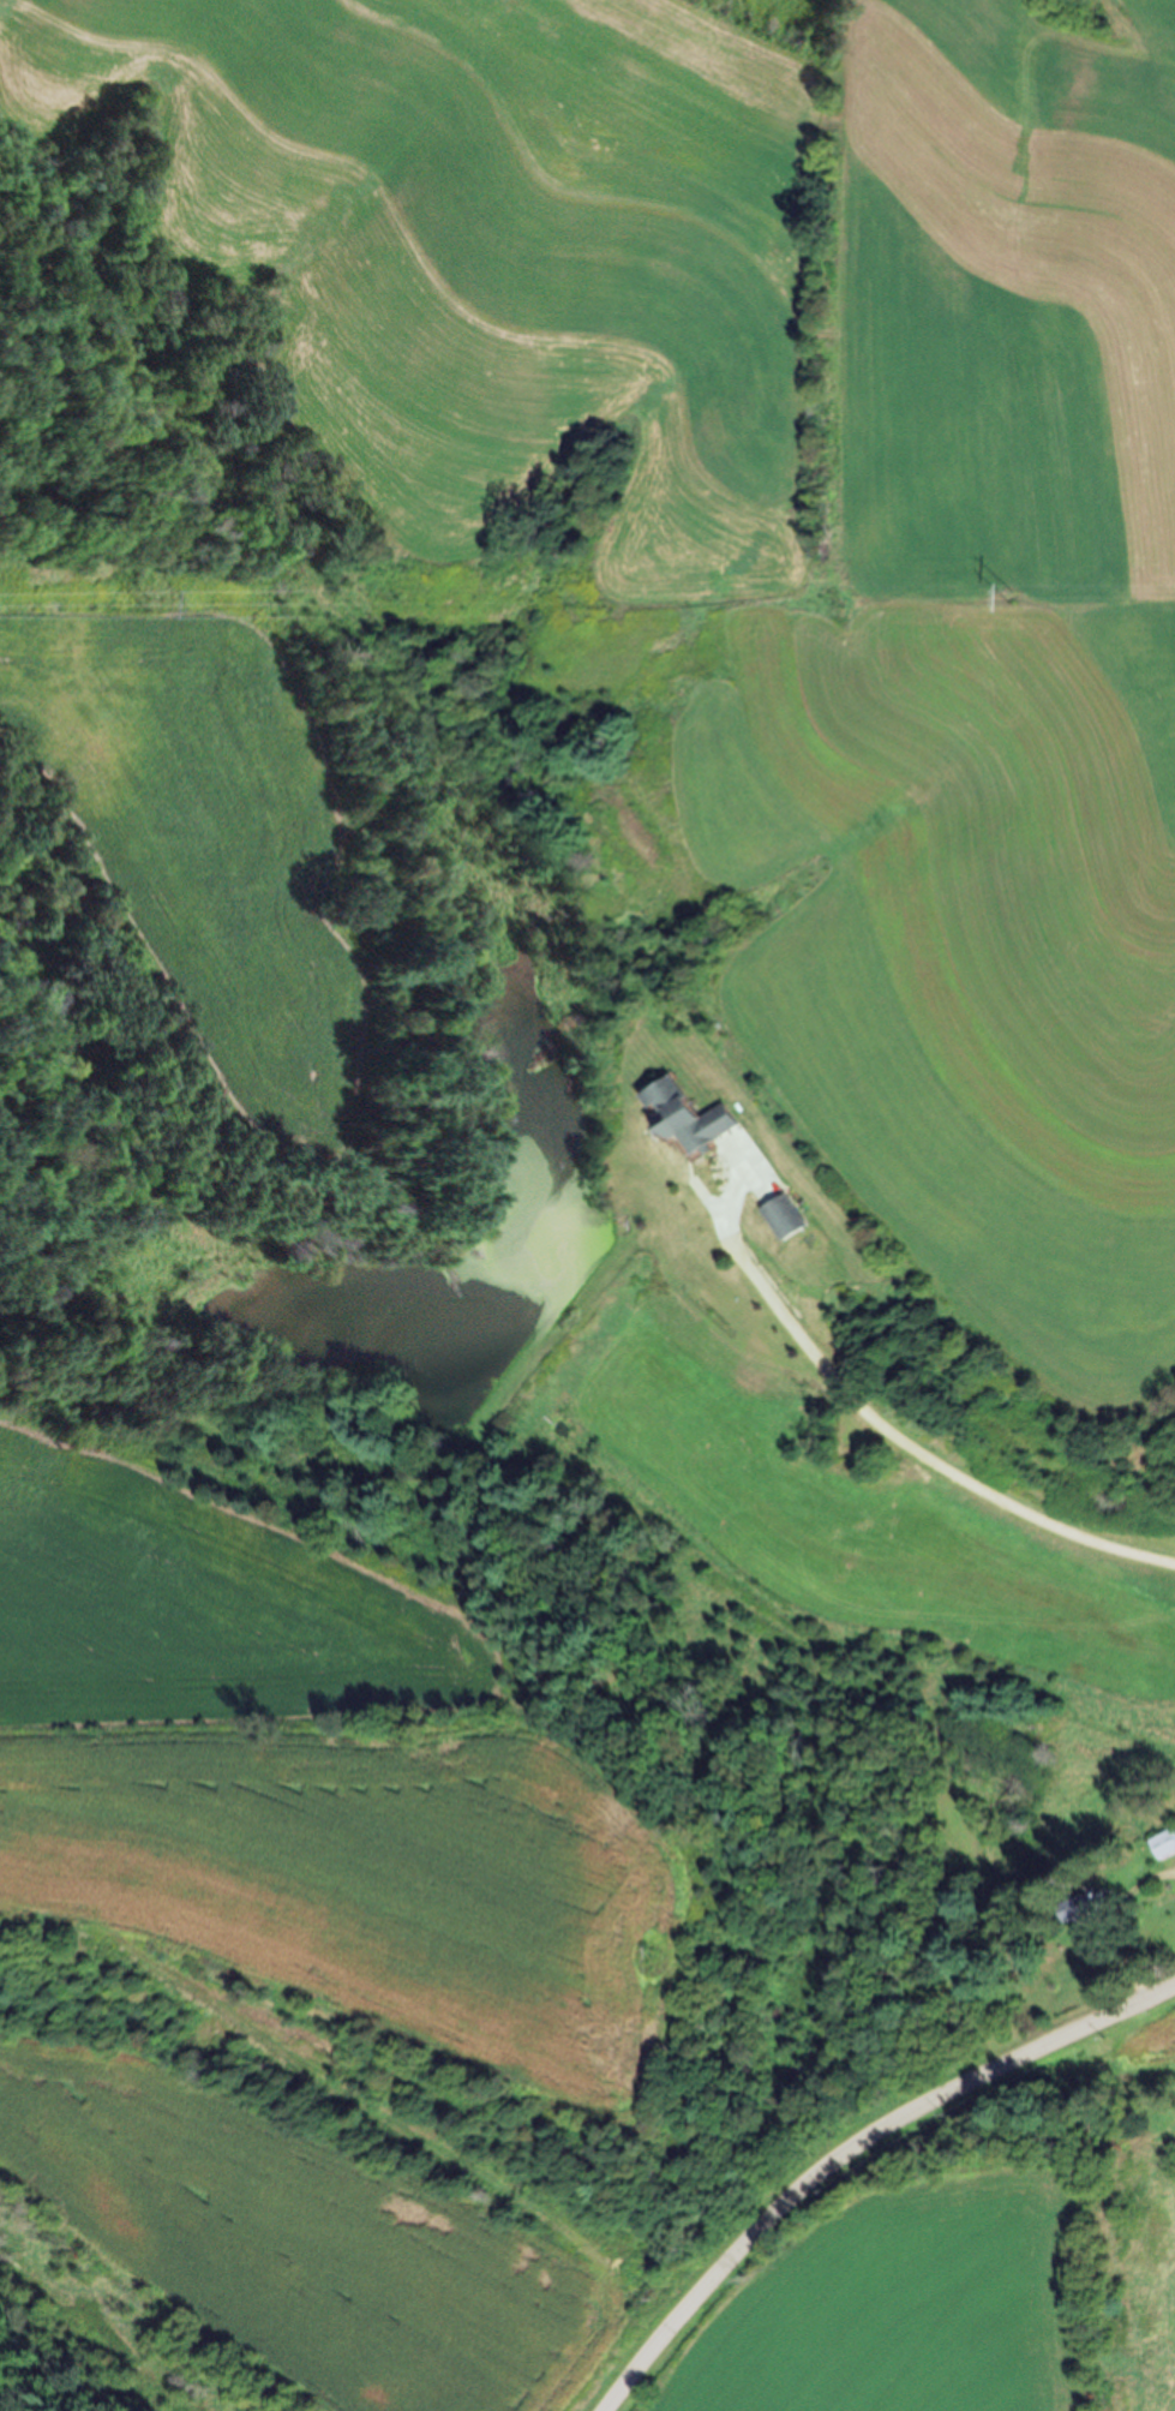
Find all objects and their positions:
building: (685, 1115)
building: (783, 1216)
building: (1164, 1844)
building: (1085, 1907)
road: (851, 2149)

